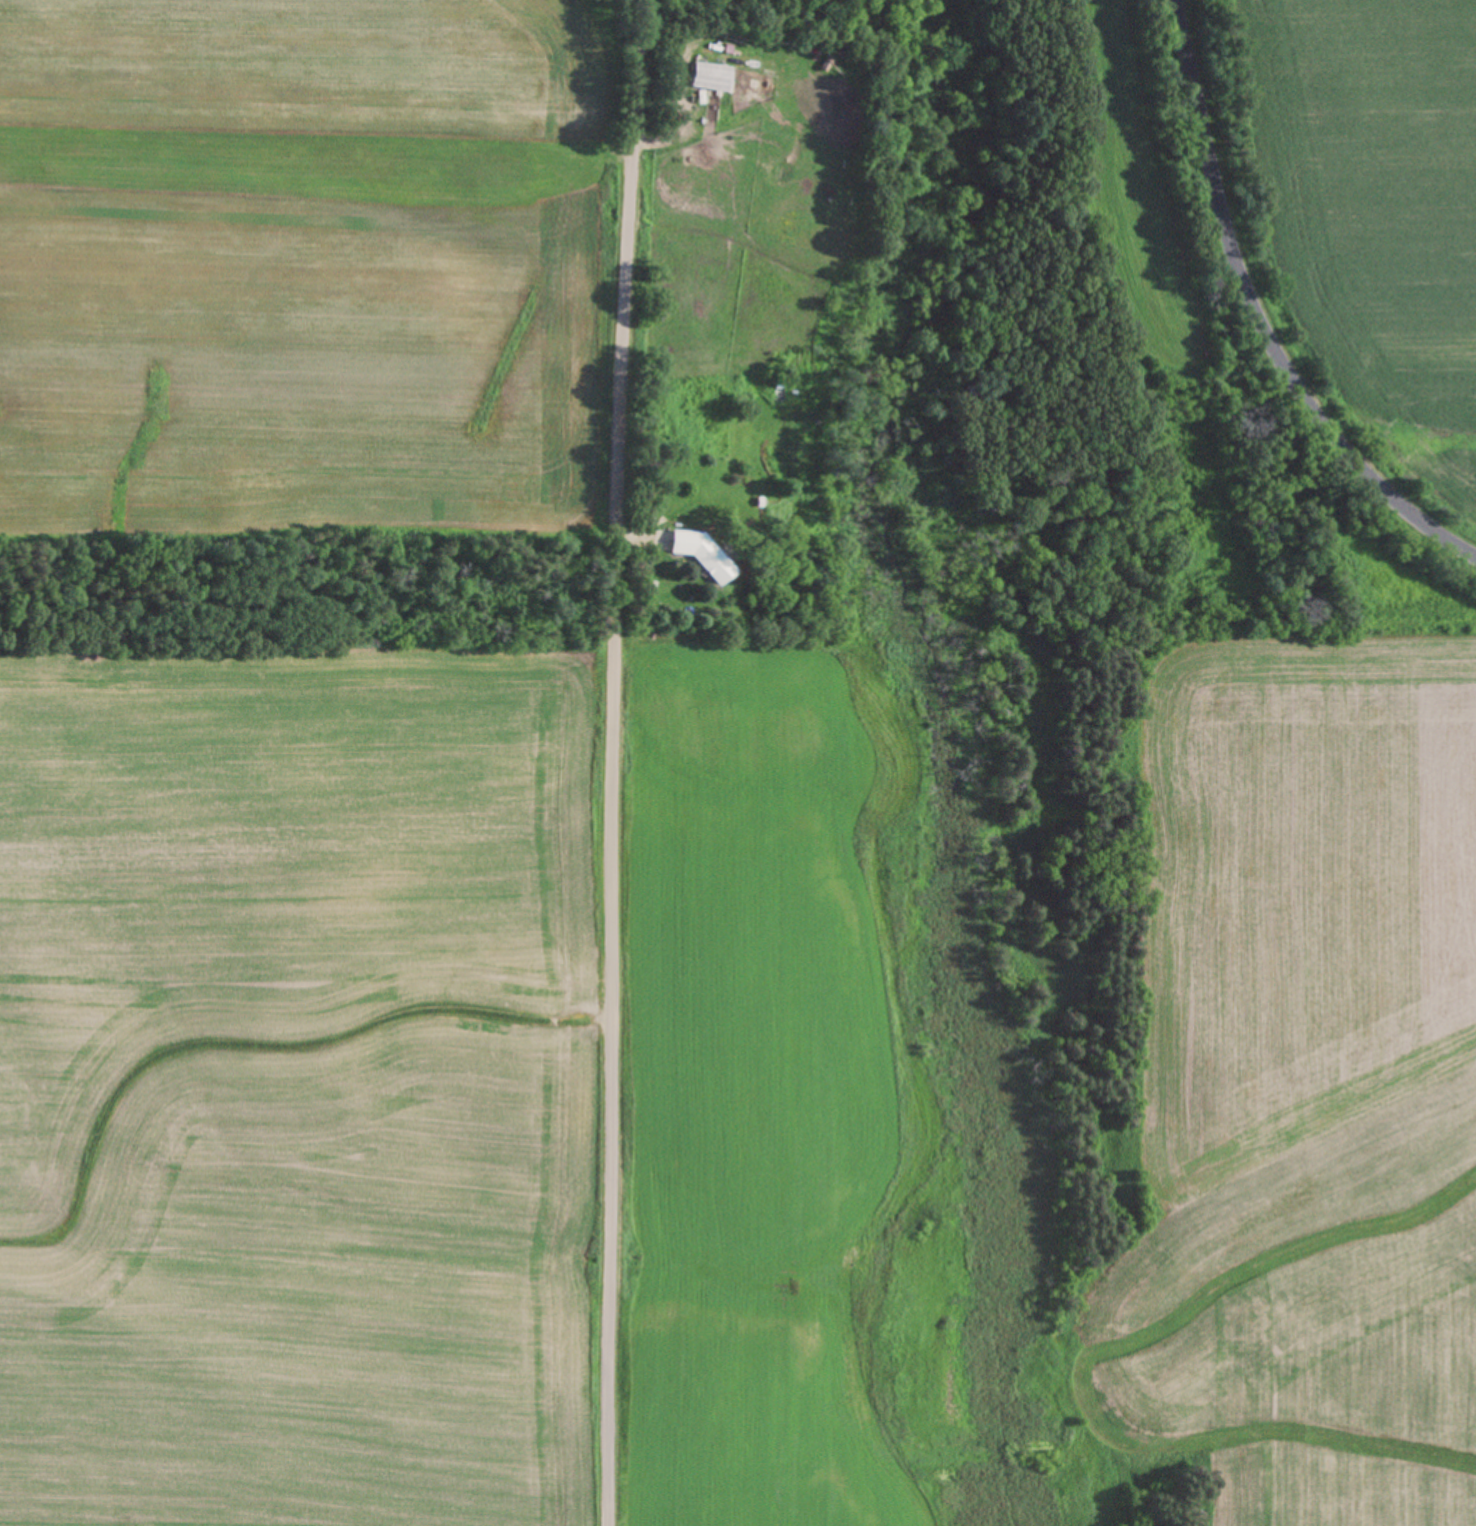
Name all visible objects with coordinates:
road: (1248, 324)
building: (812, 449)
road: (623, 763)

